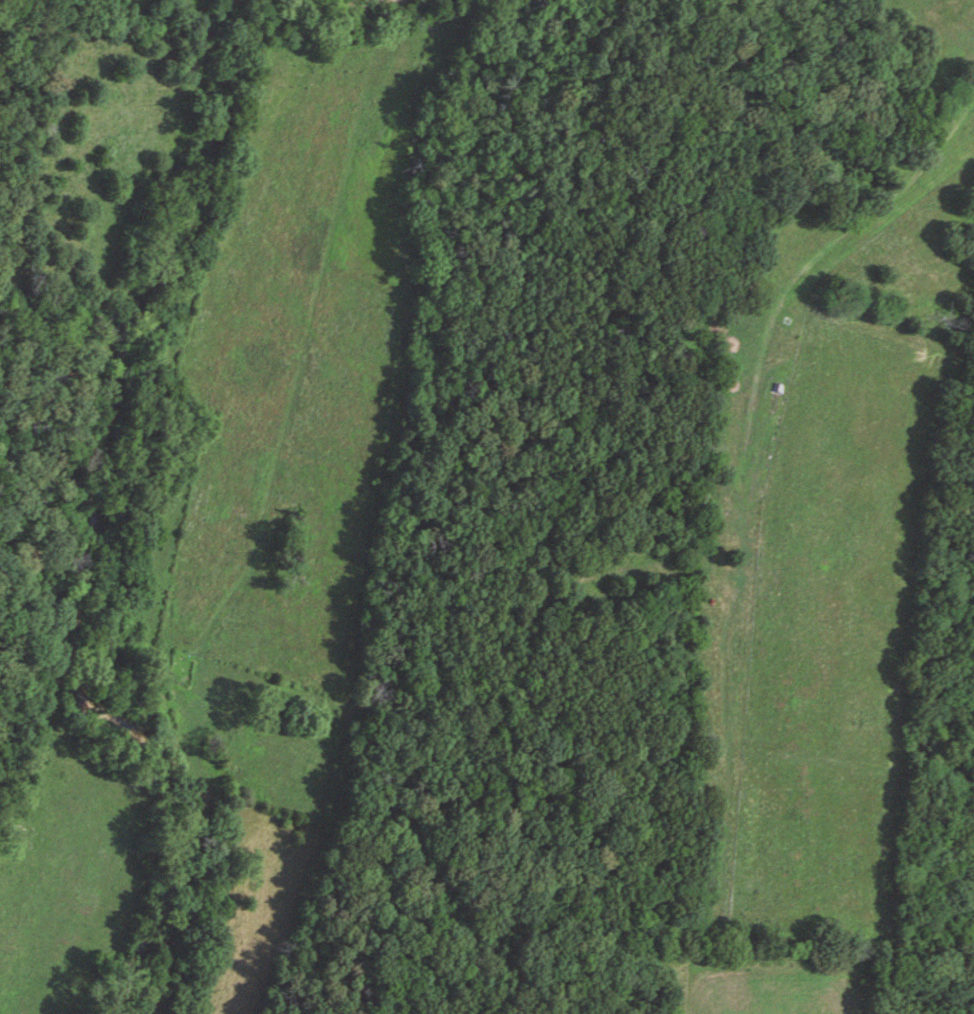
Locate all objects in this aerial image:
building: (778, 394)

